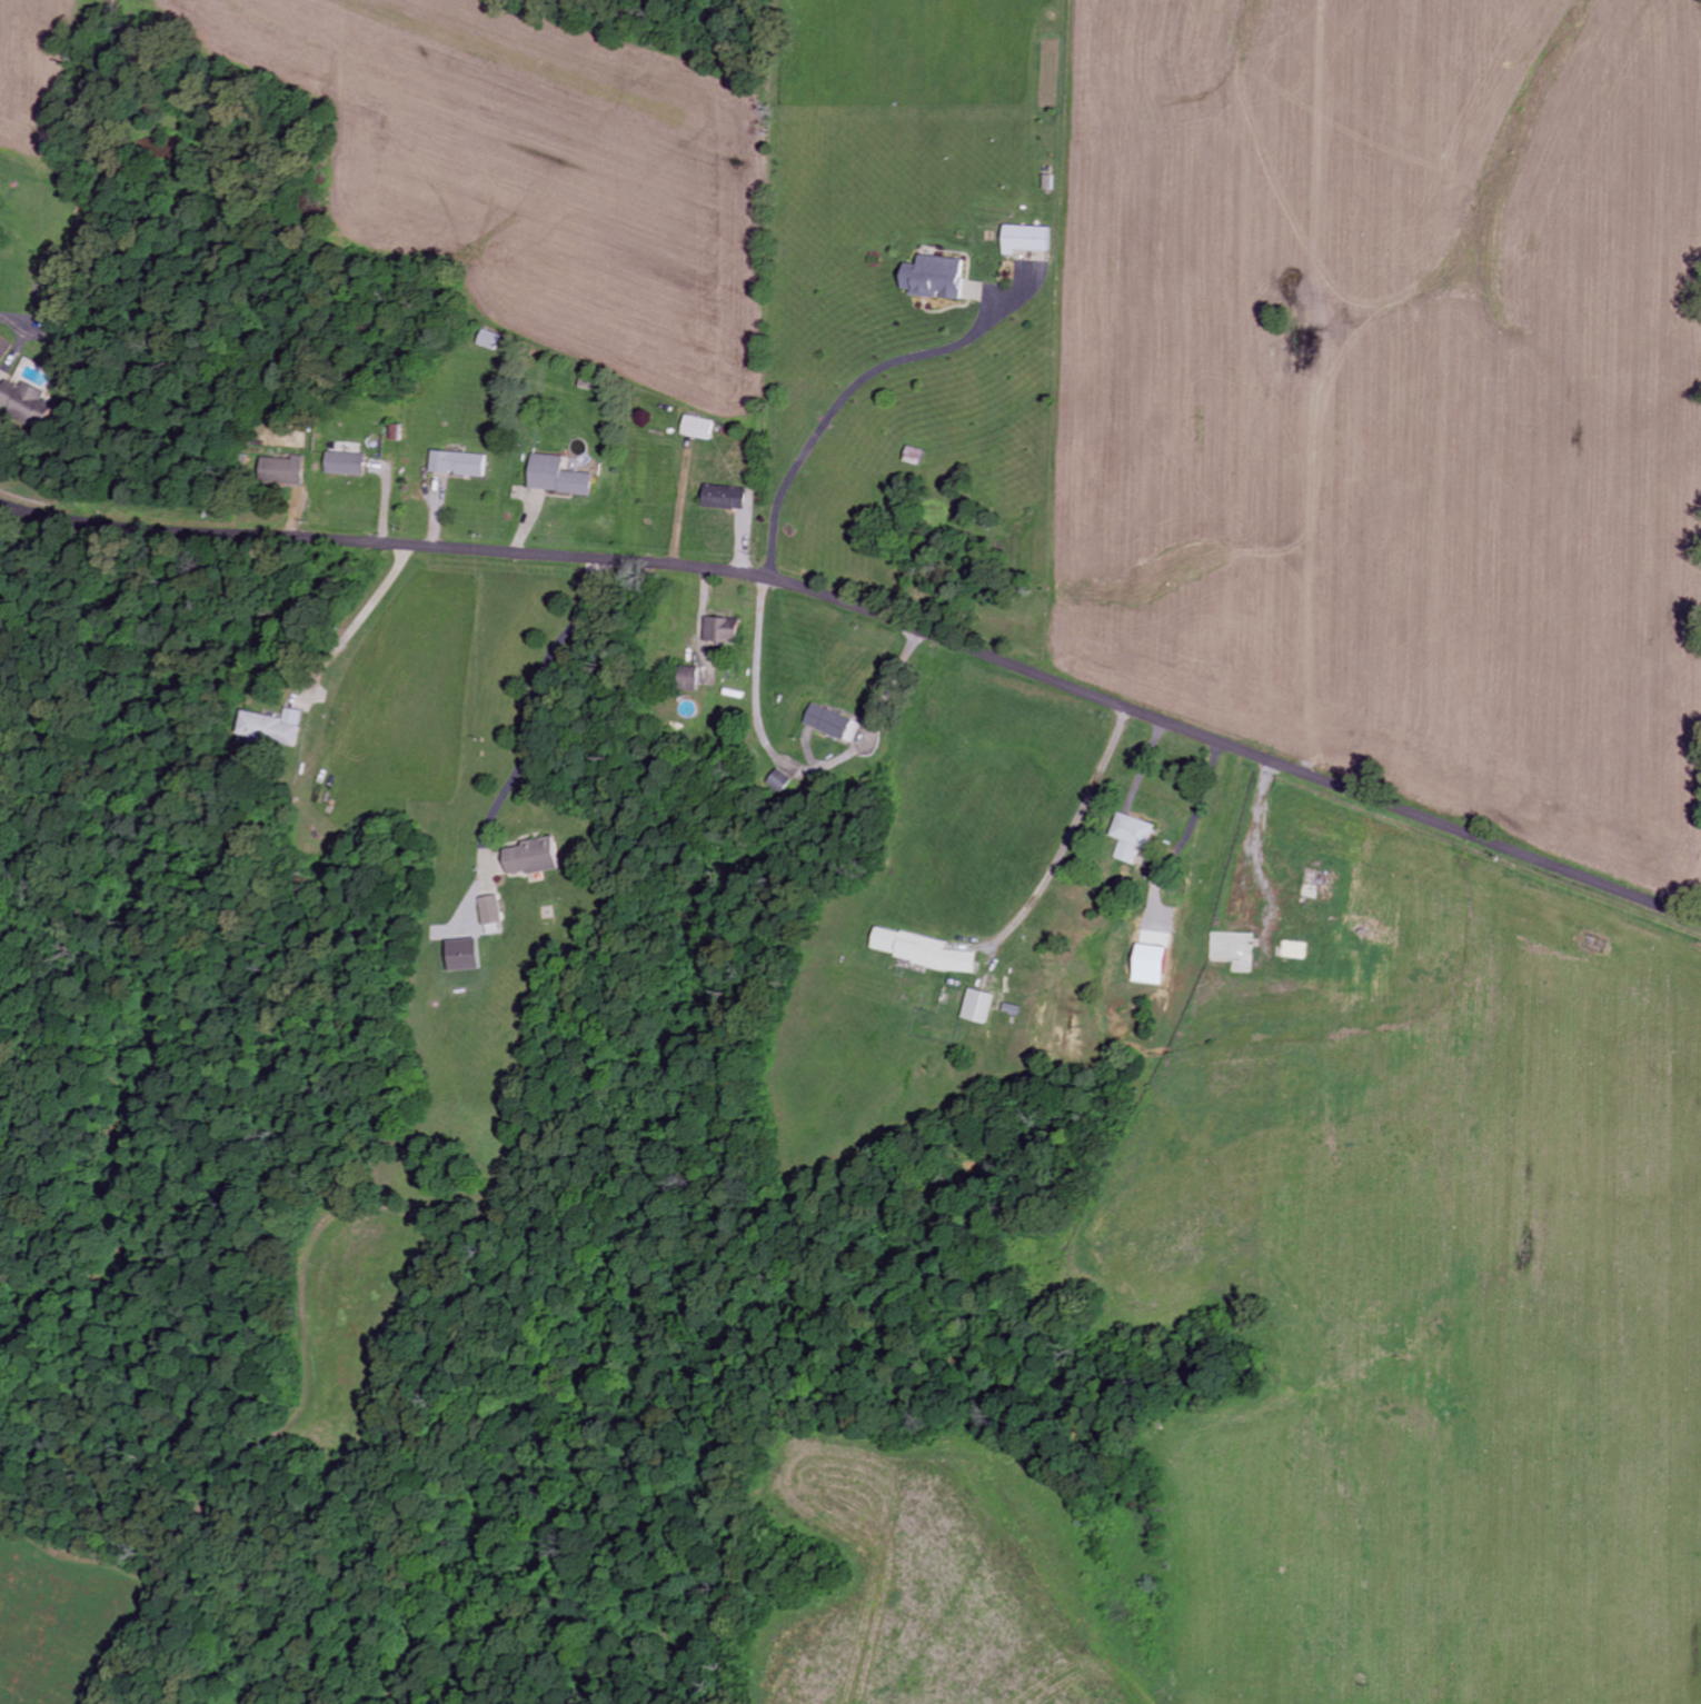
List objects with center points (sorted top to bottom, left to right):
building: (1025, 240)
building: (934, 279)
building: (3, 349)
building: (23, 402)
building: (697, 428)
building: (344, 465)
building: (456, 465)
building: (282, 471)
building: (557, 478)
building: (724, 499)
road: (872, 614)
building: (722, 631)
building: (687, 680)
building: (828, 724)
building: (271, 728)
building: (779, 781)
building: (1131, 836)
building: (531, 857)
building: (490, 910)
building: (921, 950)
building: (461, 955)
building: (1148, 965)
building: (977, 1006)

